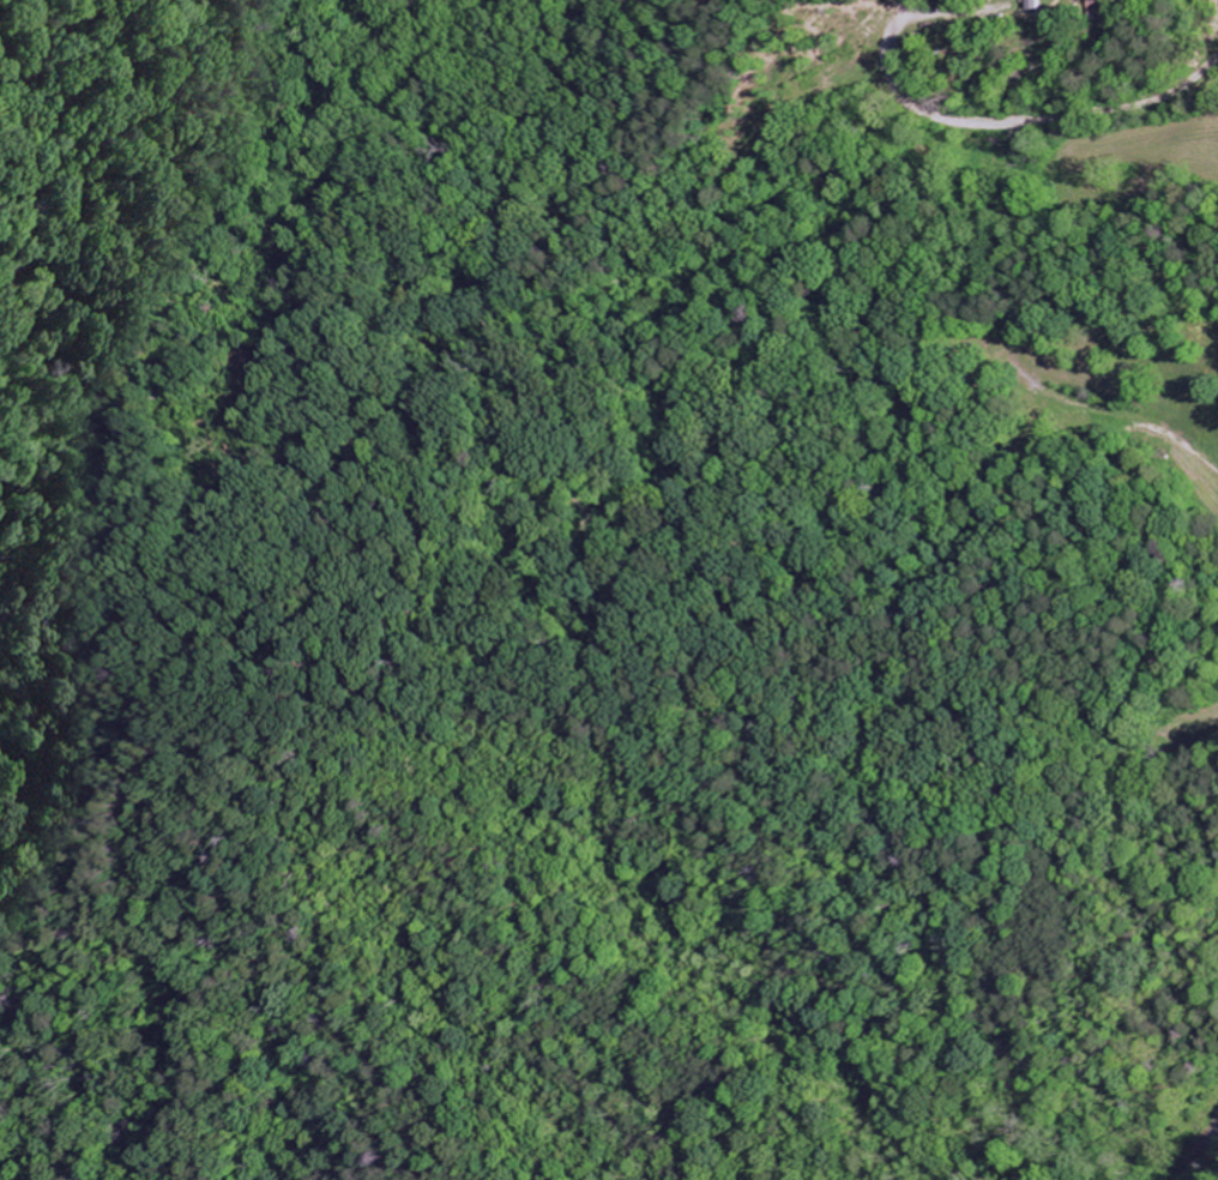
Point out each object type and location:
building: (1043, 5)
road: (882, 65)
road: (1116, 96)

